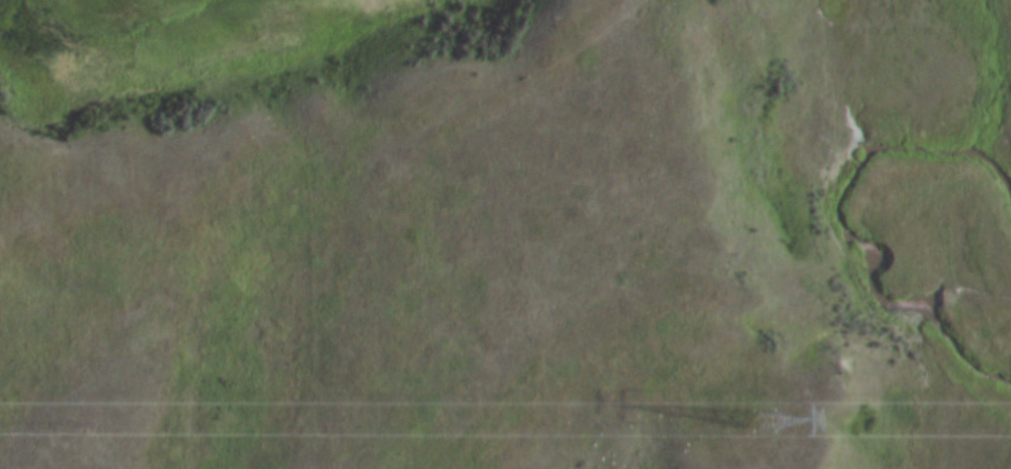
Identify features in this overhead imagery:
power tower: (761, 419)

